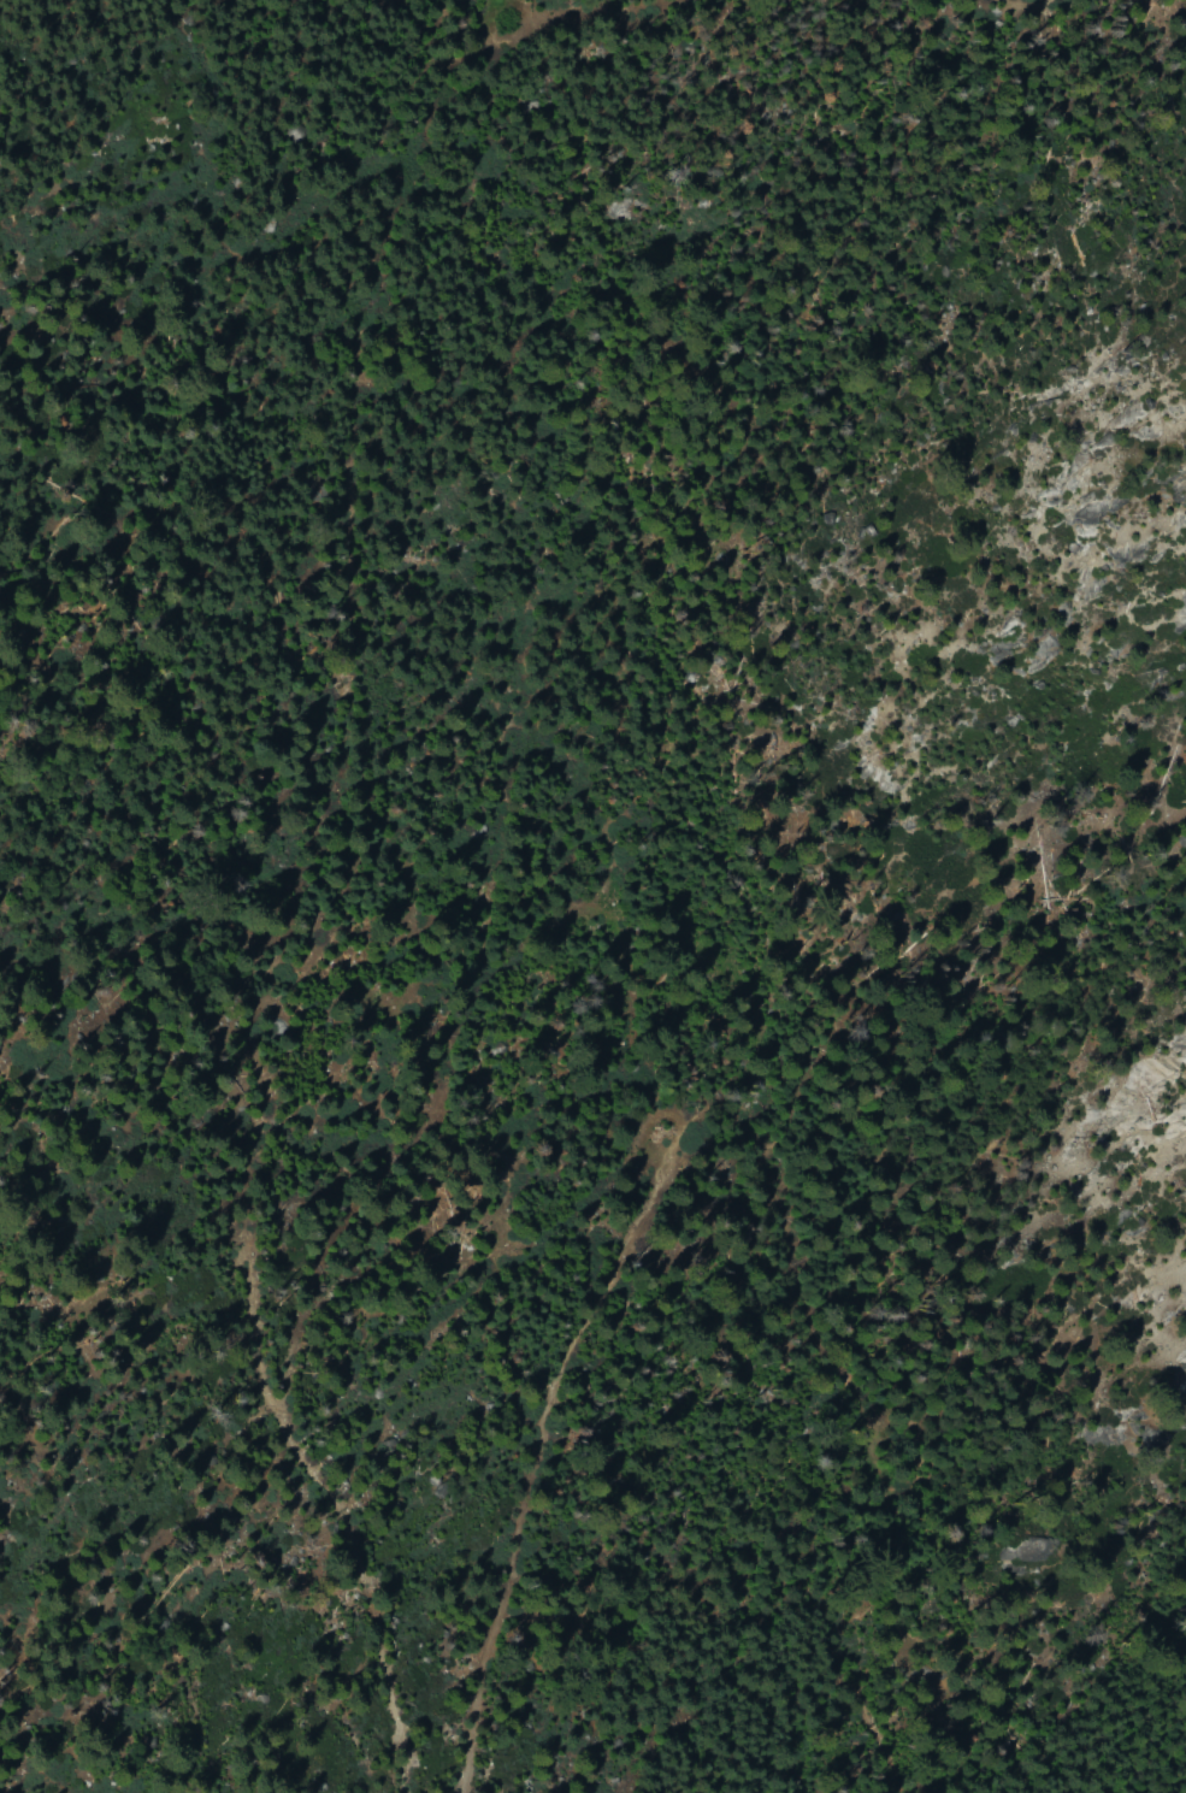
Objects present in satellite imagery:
road: (406, 170)
road: (270, 1372)

